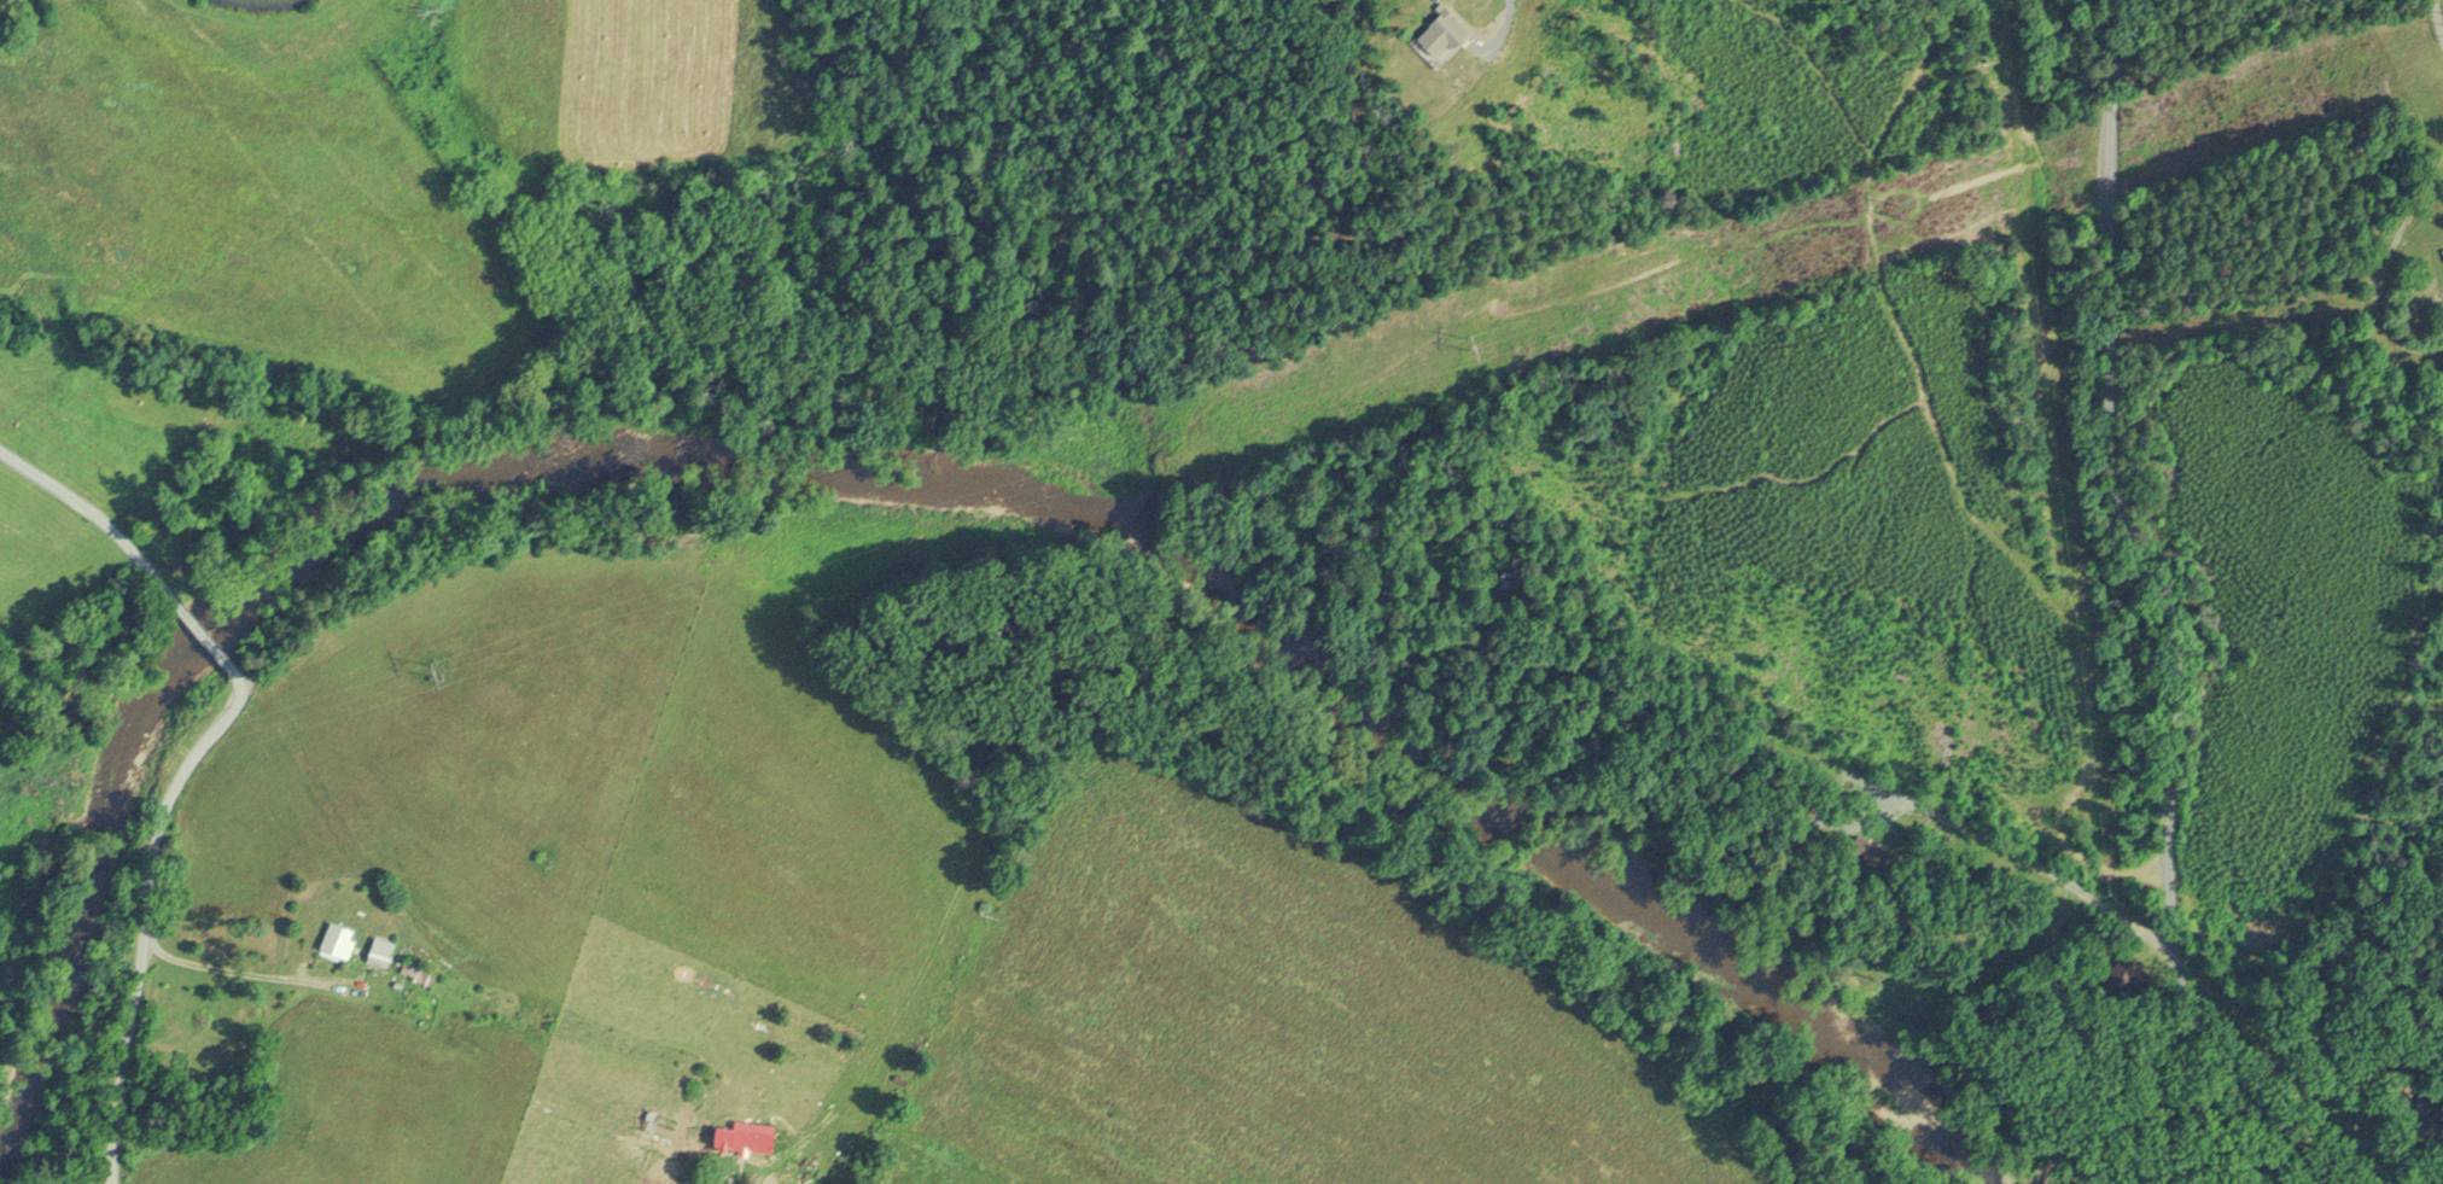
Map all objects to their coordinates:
road: (2437, 19)
road: (1502, 27)
building: (2442, 247)
river: (927, 447)
road: (101, 527)
road: (2161, 608)
road: (210, 646)
building: (1862, 850)
road: (146, 917)
building: (333, 937)
building: (378, 949)
road: (240, 970)
building: (2126, 973)
building: (740, 1136)

